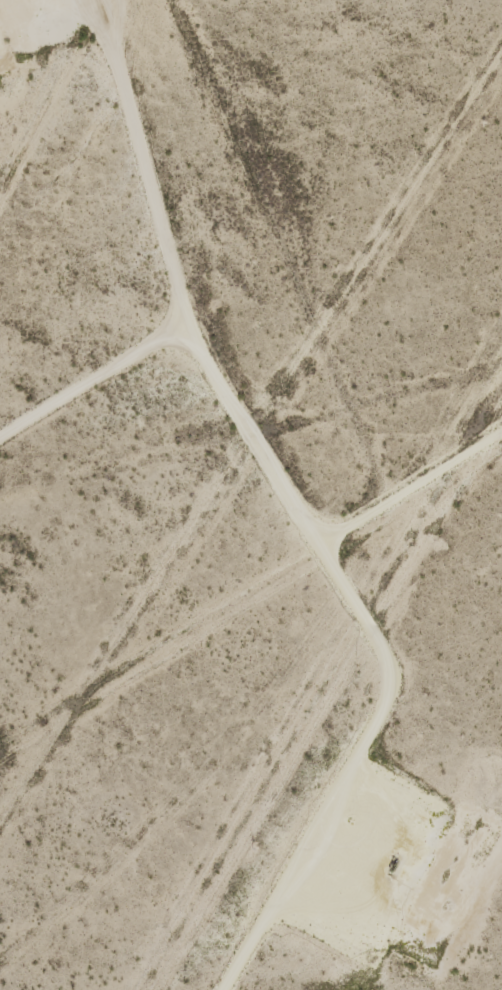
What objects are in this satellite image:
road: (135, 163)
road: (326, 565)

